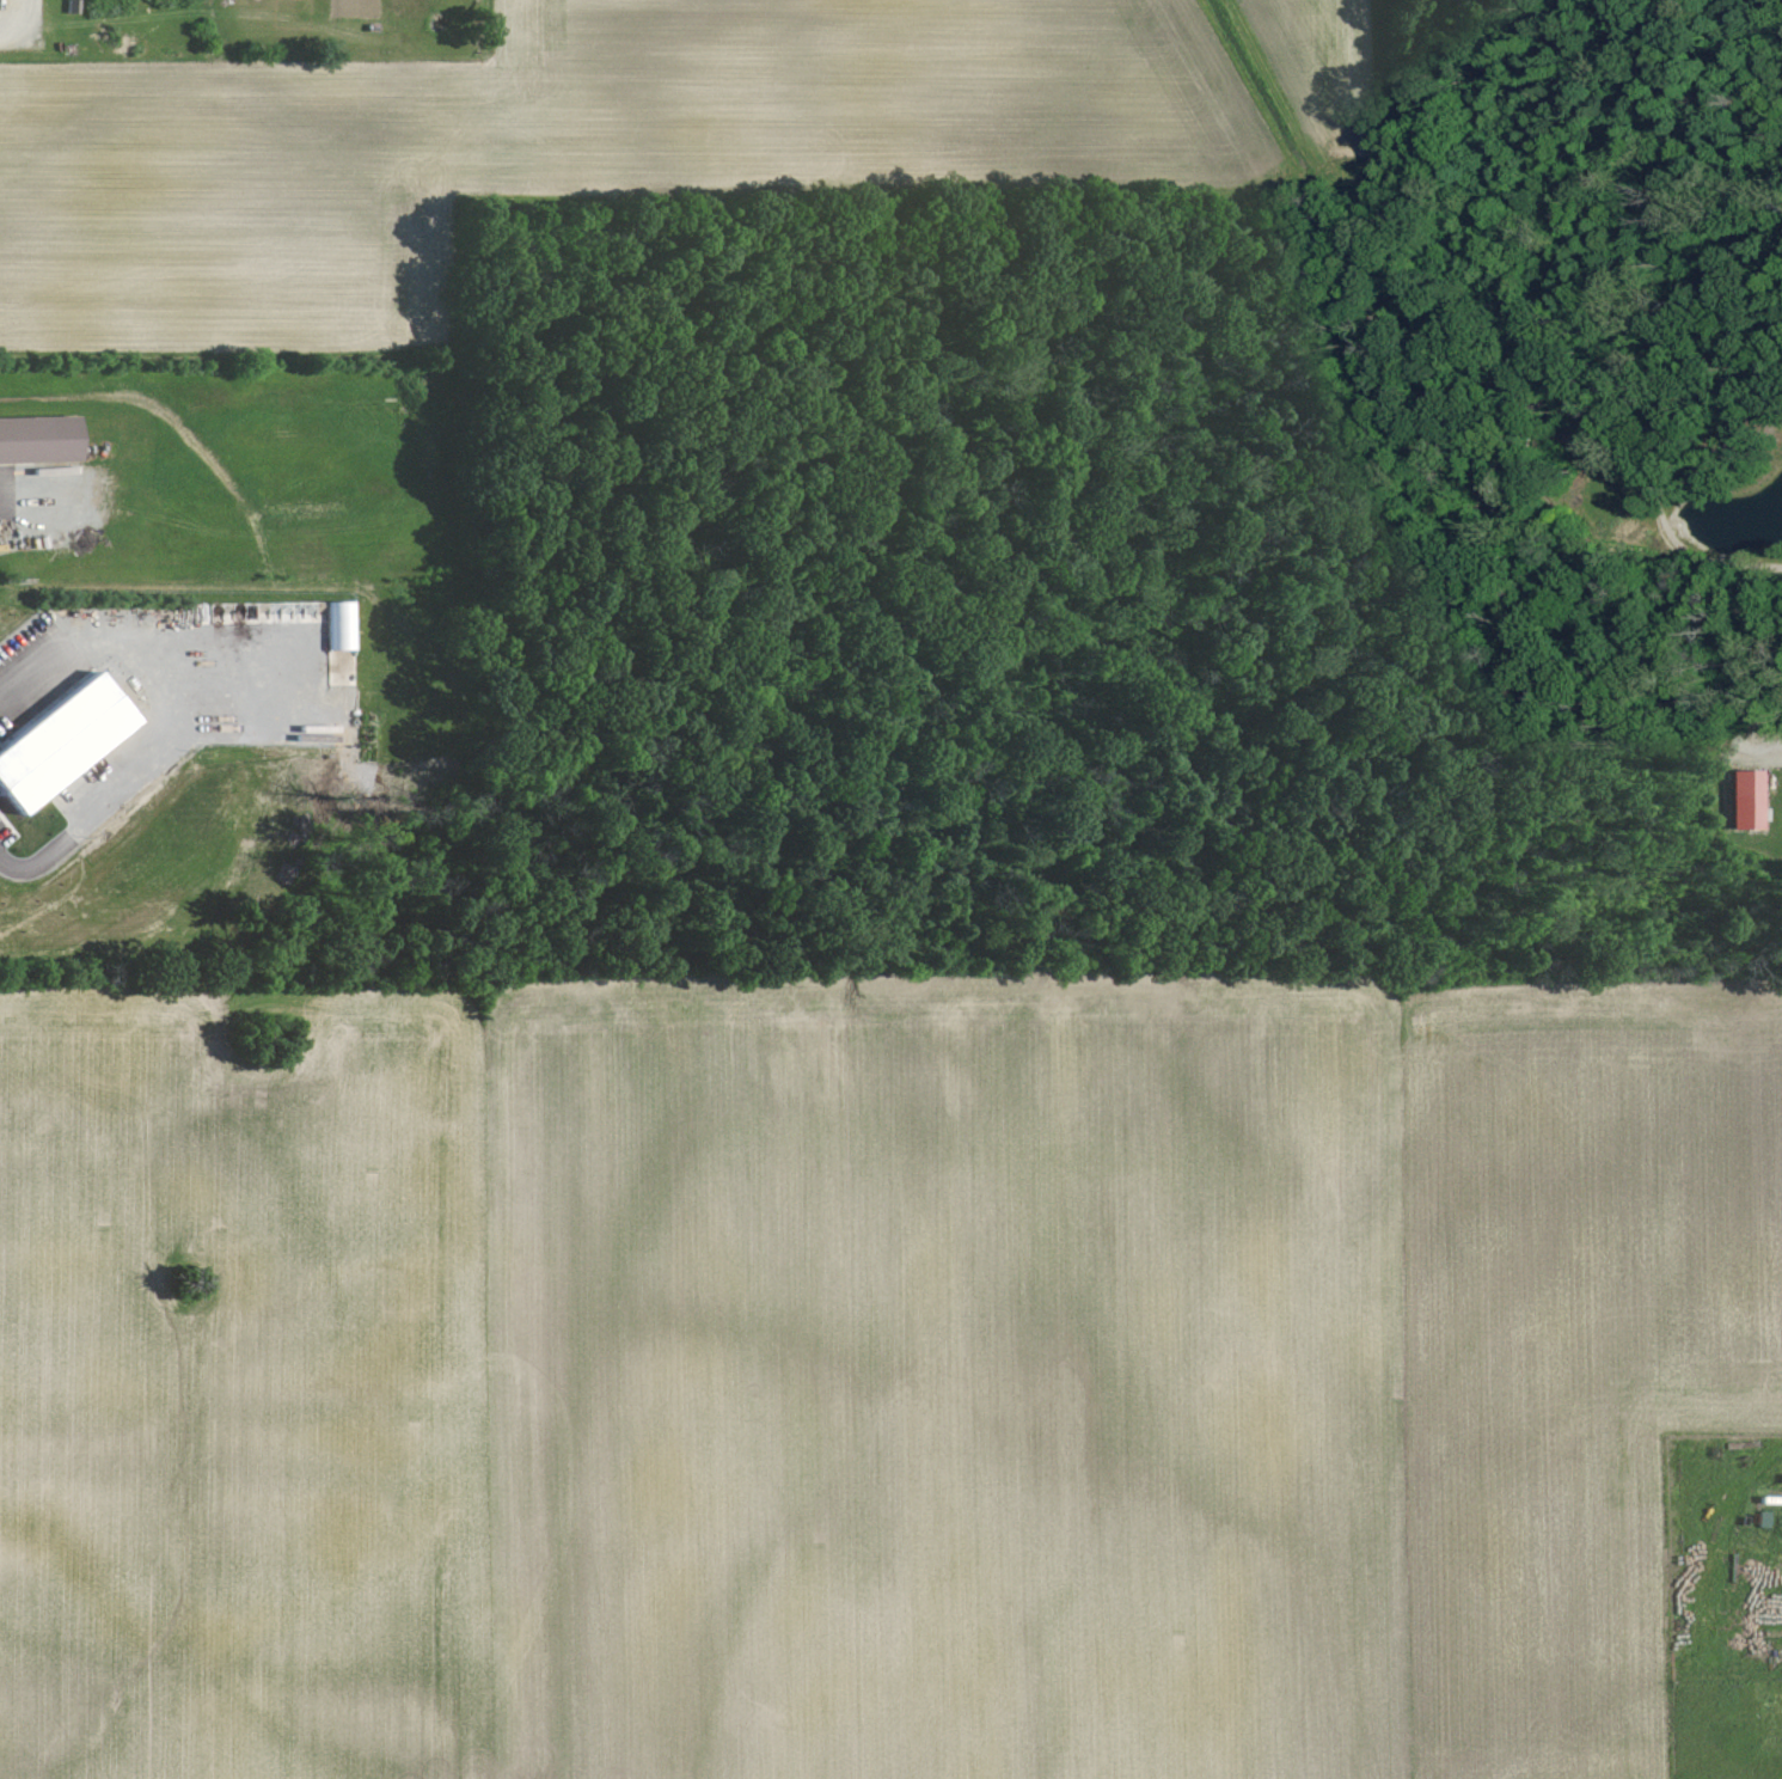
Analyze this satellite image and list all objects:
road: (17, 23)
building: (43, 441)
road: (16, 507)
building: (344, 624)
road: (169, 716)
building: (68, 741)
road: (1769, 746)
building: (1739, 800)

